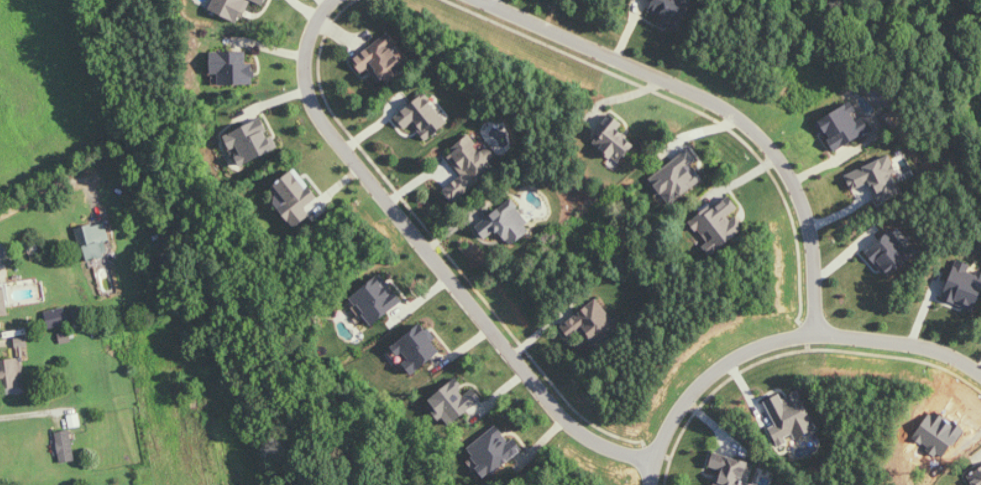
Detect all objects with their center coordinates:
building: (261, 1)
building: (231, 8)
building: (671, 12)
building: (381, 59)
building: (232, 67)
road: (720, 105)
building: (423, 117)
building: (888, 120)
building: (838, 130)
building: (614, 139)
building: (252, 142)
building: (469, 166)
building: (678, 177)
building: (877, 178)
road: (48, 190)
building: (296, 197)
building: (506, 221)
building: (95, 241)
building: (888, 254)
road: (433, 258)
building: (964, 285)
building: (376, 299)
building: (3, 301)
building: (58, 317)
building: (590, 322)
road: (780, 338)
building: (22, 341)
building: (419, 346)
building: (12, 372)
building: (455, 402)
road: (29, 412)
building: (790, 412)
building: (66, 445)
building: (494, 450)
building: (732, 470)
building: (976, 477)

